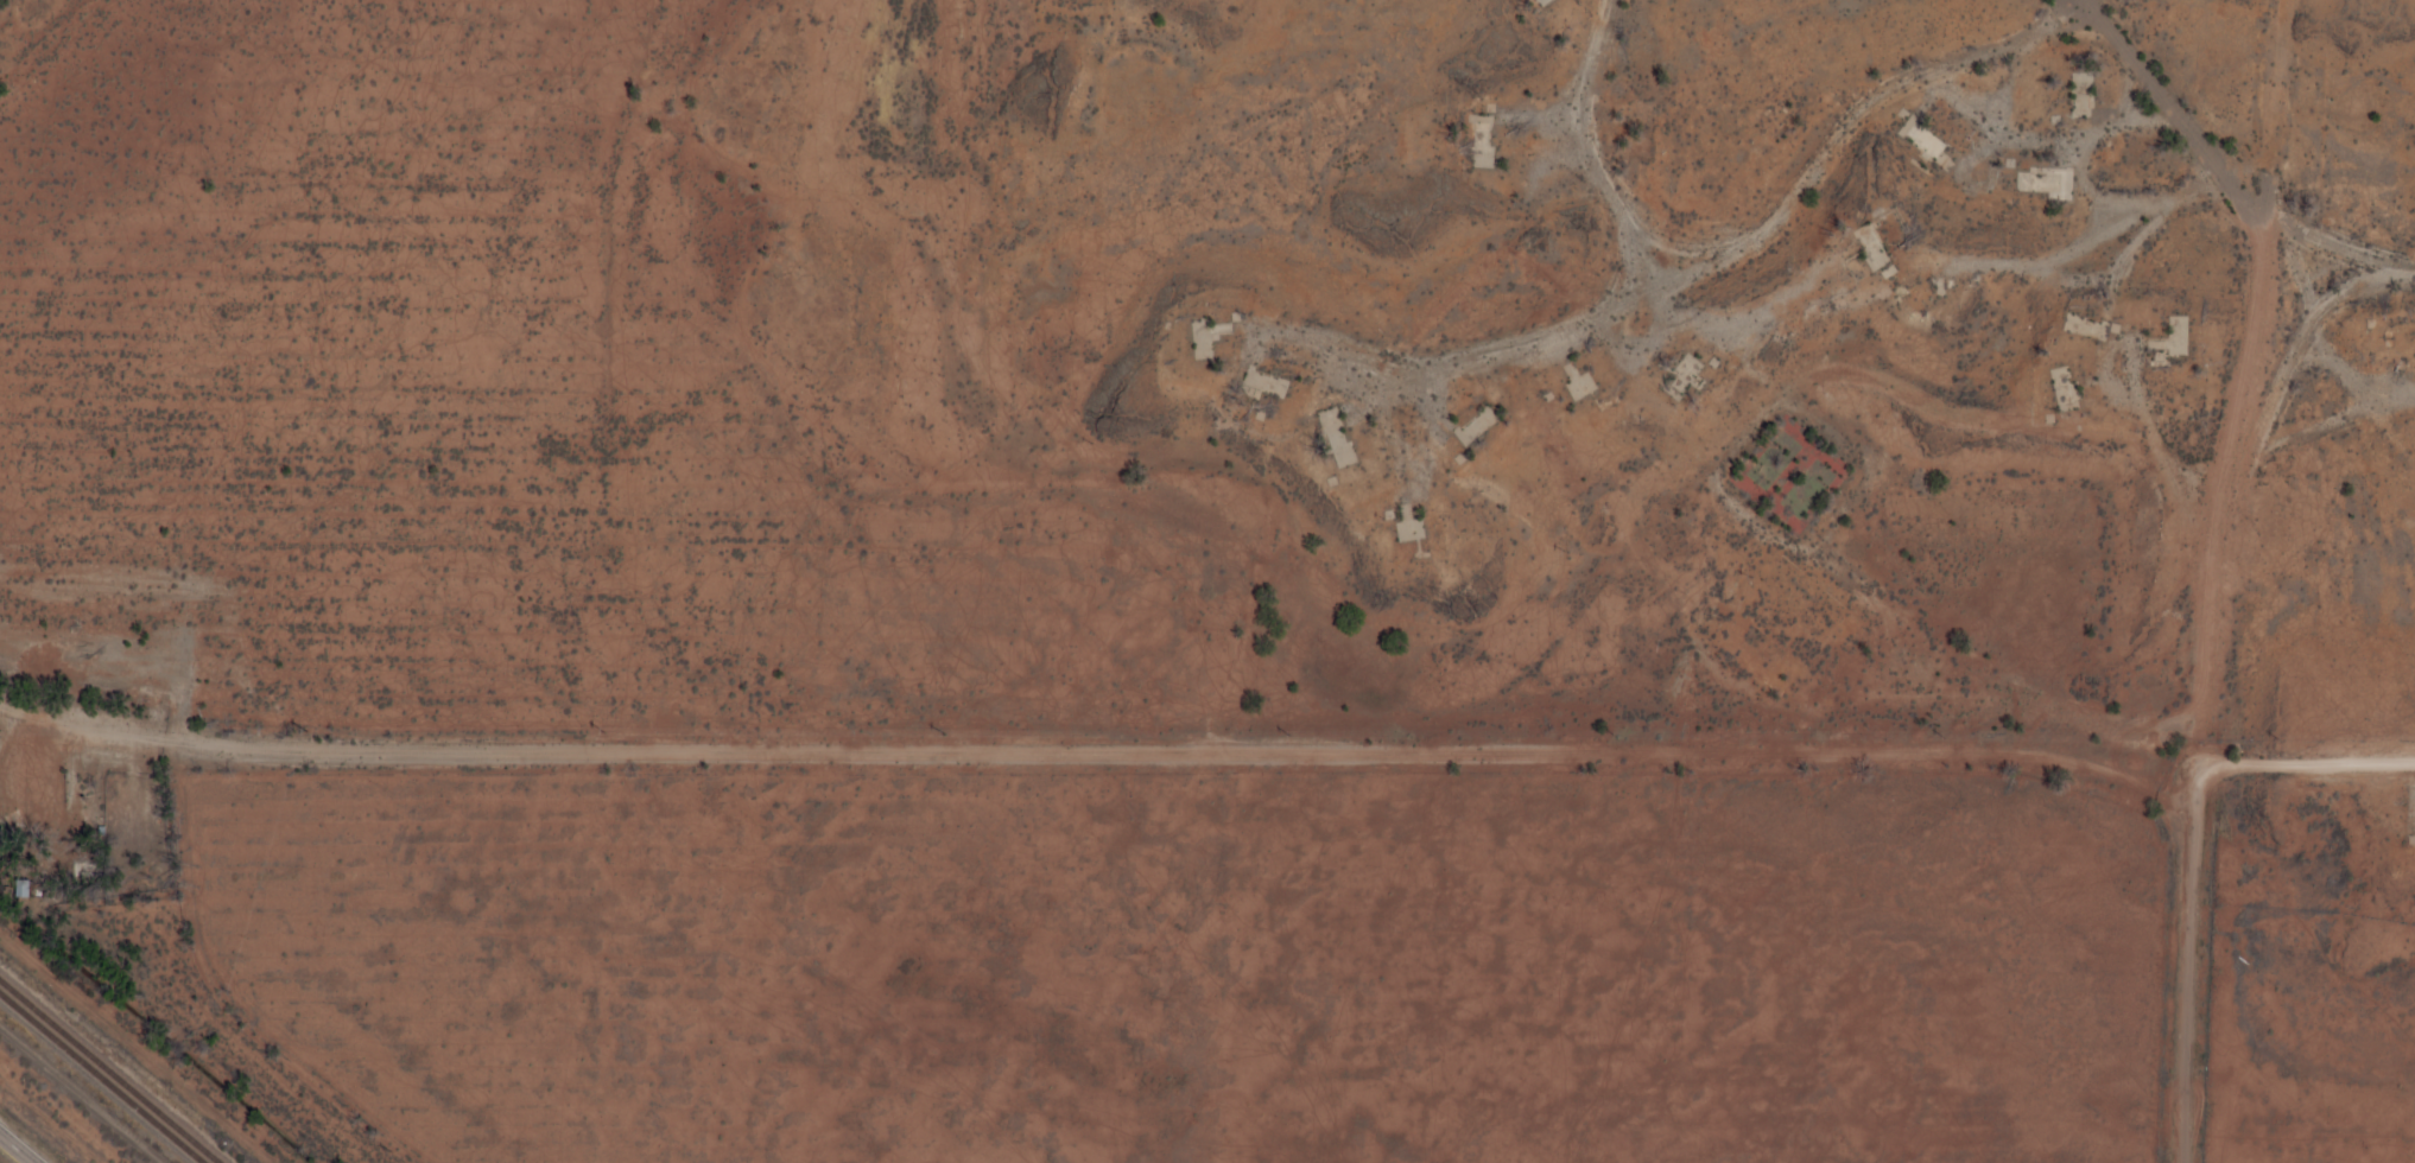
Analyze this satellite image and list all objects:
road: (13, 7)
road: (1805, 186)
road: (2175, 203)
road: (1566, 275)
road: (2235, 395)
road: (2300, 760)
road: (1089, 788)
building: (19, 889)
road: (2191, 975)
railway: (108, 1072)
railway: (101, 1078)
road: (15, 1149)

